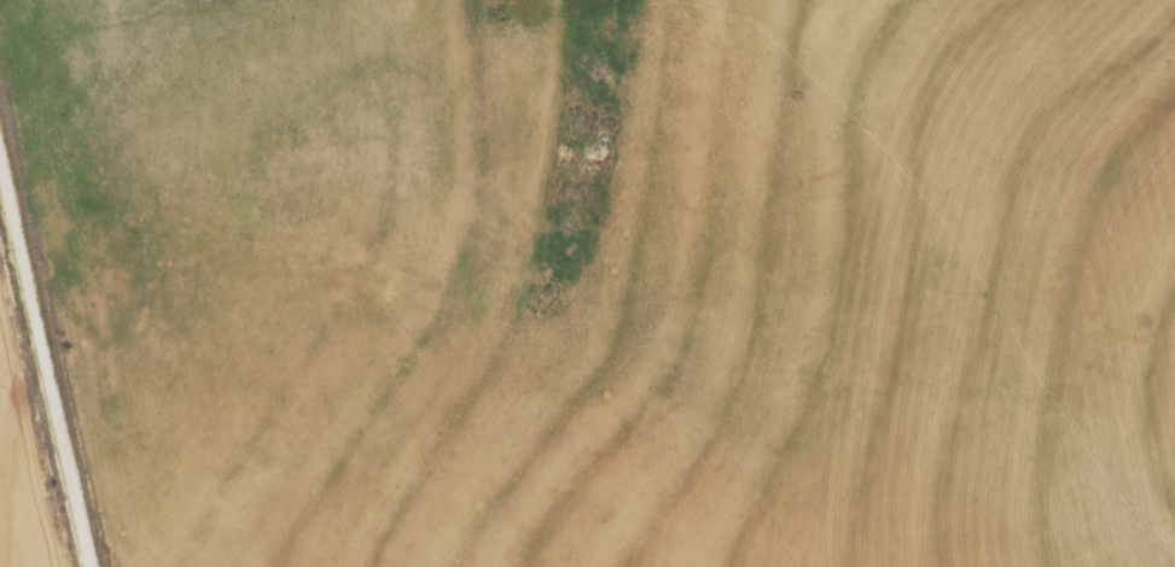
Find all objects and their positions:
road: (42, 362)

